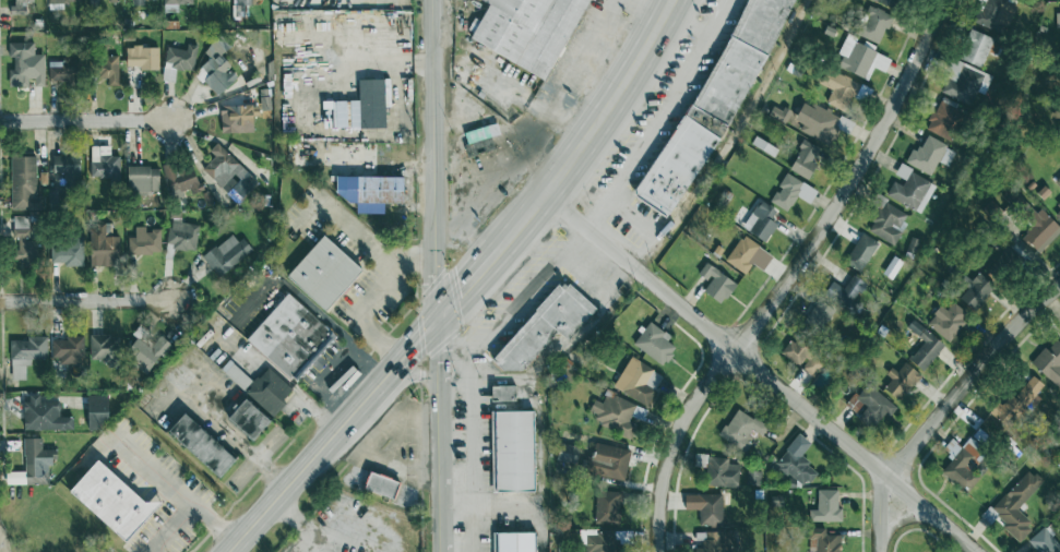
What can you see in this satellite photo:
building: (102, 0)
building: (217, 0)
building: (61, 1)
building: (174, 1)
building: (133, 2)
building: (884, 2)
building: (15, 7)
building: (991, 13)
building: (1057, 20)
building: (871, 24)
building: (525, 31)
building: (973, 48)
building: (139, 57)
building: (178, 57)
building: (858, 58)
road: (599, 61)
building: (17, 64)
road: (372, 64)
building: (214, 65)
building: (104, 69)
building: (57, 71)
building: (962, 82)
building: (835, 88)
road: (615, 100)
building: (368, 103)
road: (529, 104)
building: (776, 113)
building: (234, 118)
road: (85, 120)
building: (941, 120)
building: (813, 121)
building: (478, 132)
road: (730, 141)
building: (928, 155)
building: (802, 158)
building: (102, 164)
building: (63, 166)
building: (225, 172)
building: (140, 178)
building: (177, 178)
building: (1057, 181)
building: (21, 183)
building: (908, 189)
building: (366, 191)
building: (789, 192)
building: (1058, 204)
road: (634, 217)
road: (343, 219)
building: (758, 220)
building: (883, 220)
building: (1059, 221)
building: (1035, 227)
building: (179, 233)
building: (22, 240)
building: (142, 241)
building: (99, 248)
building: (64, 252)
building: (858, 252)
building: (739, 253)
building: (224, 254)
road: (553, 264)
building: (890, 267)
building: (320, 272)
road: (786, 275)
road: (431, 276)
building: (713, 283)
building: (843, 290)
building: (974, 291)
road: (86, 300)
road: (365, 300)
building: (815, 314)
building: (944, 320)
traffic signals: (431, 325)
building: (287, 337)
building: (652, 343)
building: (920, 346)
building: (100, 347)
building: (67, 350)
building: (143, 351)
building: (23, 355)
building: (799, 357)
building: (1048, 363)
road: (760, 371)
road: (386, 373)
building: (635, 381)
building: (897, 381)
building: (265, 391)
building: (499, 393)
building: (1025, 397)
building: (868, 404)
road: (945, 406)
building: (93, 411)
building: (615, 413)
building: (40, 416)
building: (243, 419)
building: (738, 430)
road: (225, 432)
building: (195, 445)
building: (509, 451)
building: (564, 453)
road: (254, 458)
building: (607, 460)
building: (794, 461)
building: (960, 464)
building: (29, 465)
building: (718, 472)
building: (377, 485)
road: (176, 488)
road: (368, 488)
building: (106, 500)
building: (1014, 505)
building: (823, 506)
building: (604, 507)
building: (702, 507)
road: (903, 518)
road: (169, 527)
building: (820, 540)
building: (1041, 541)
building: (511, 542)
building: (596, 542)
building: (710, 542)

